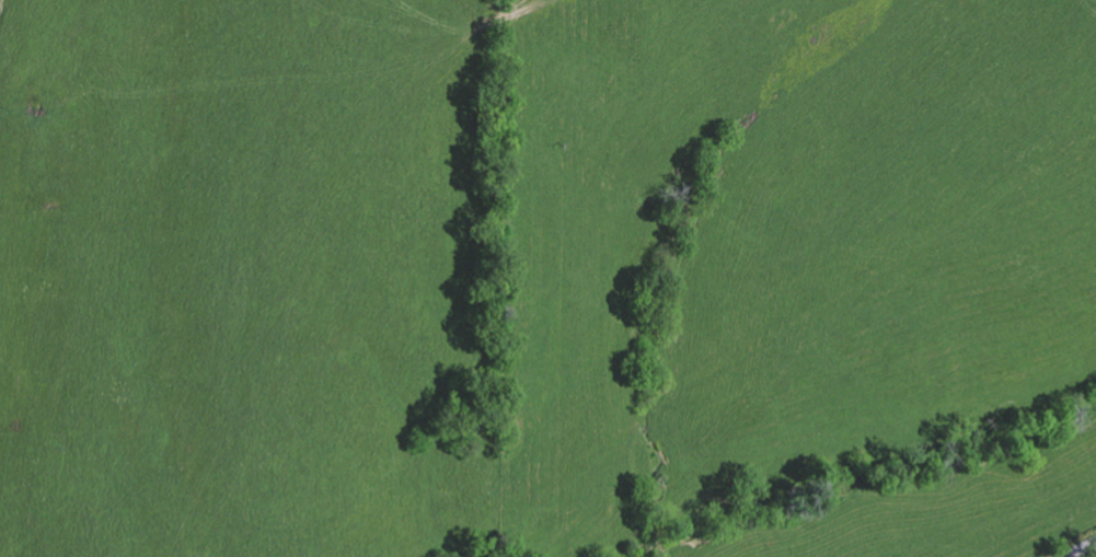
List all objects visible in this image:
road: (1083, 550)

